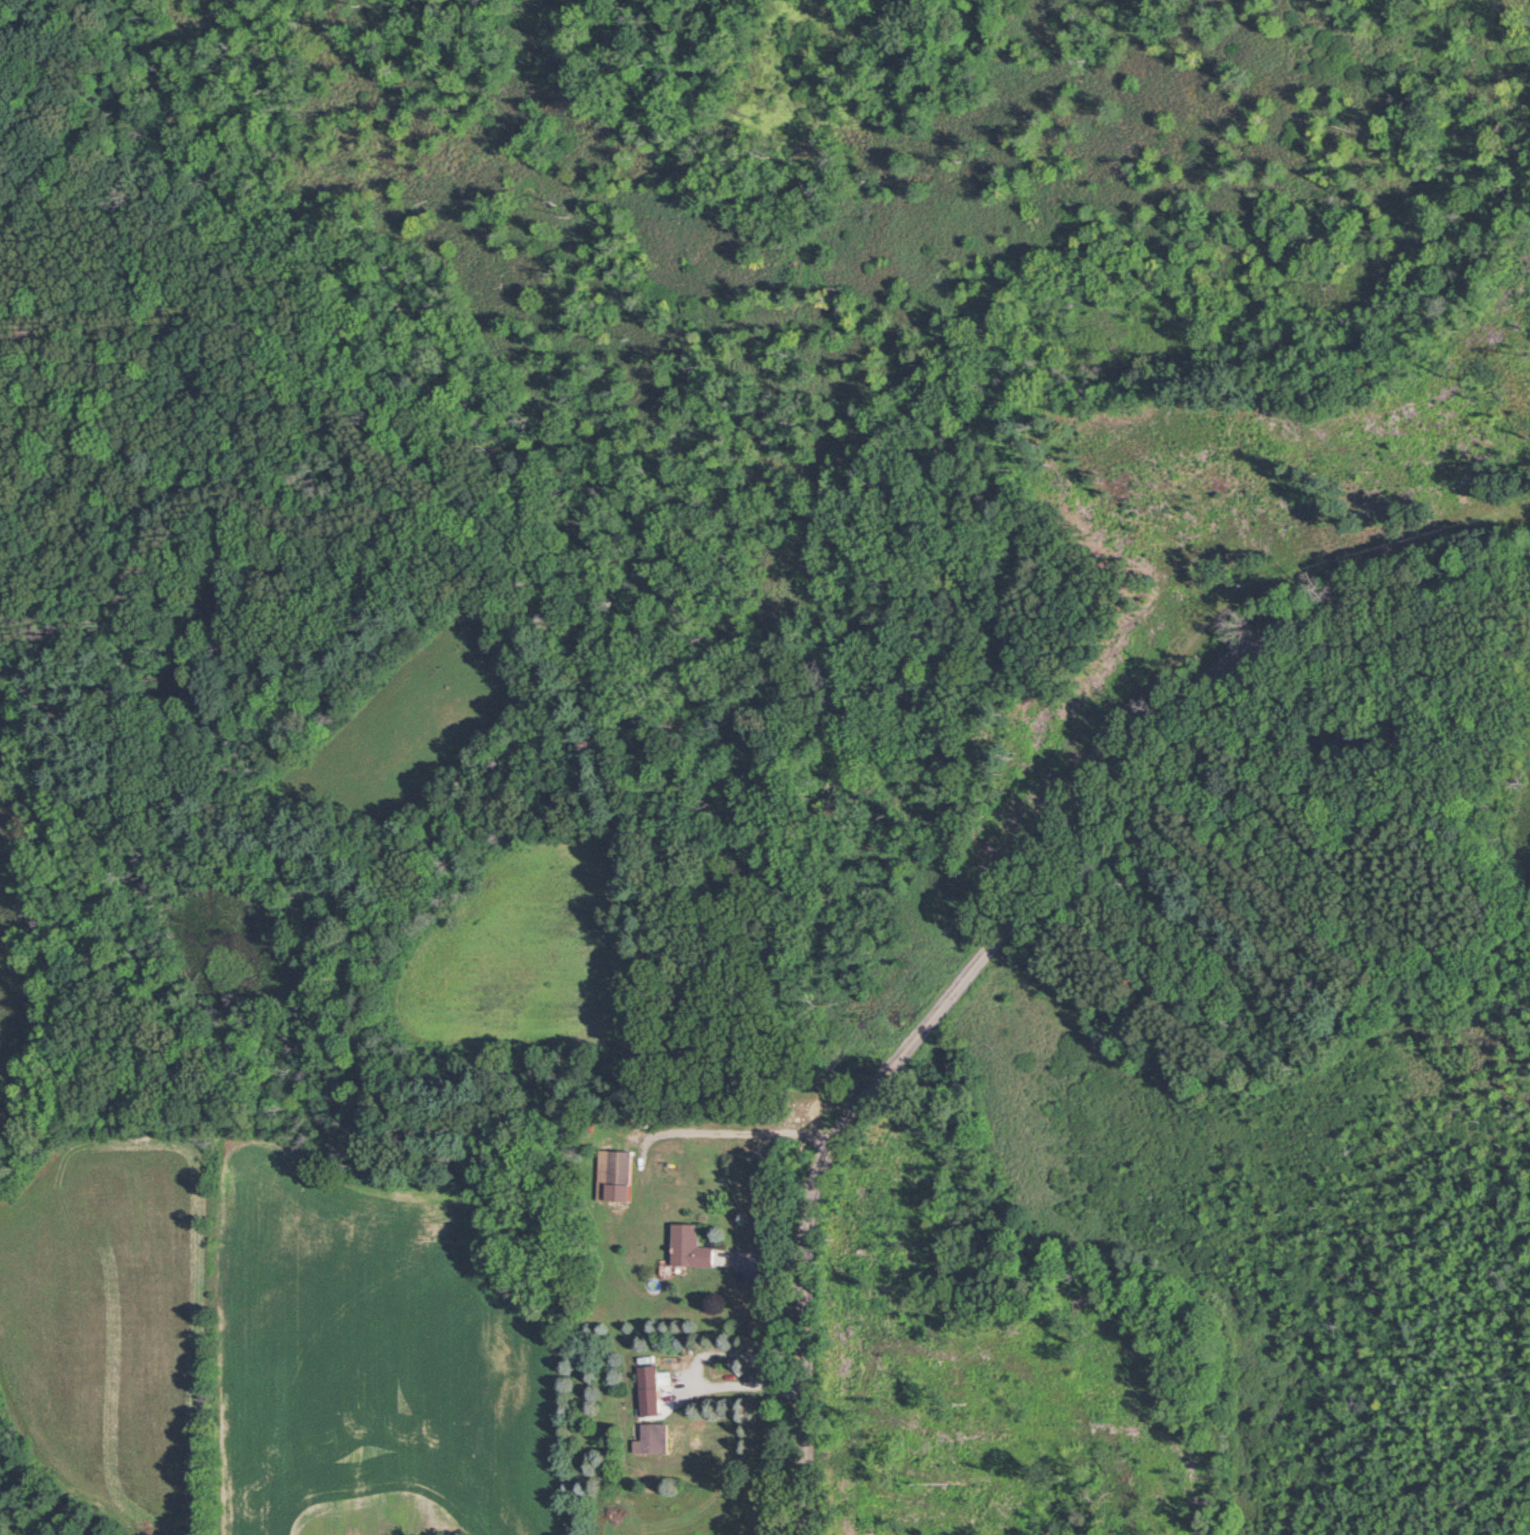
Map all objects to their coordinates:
road: (1009, 935)
road: (735, 1135)
building: (618, 1169)
building: (688, 1249)
building: (646, 1379)
road: (744, 1386)
building: (651, 1440)

